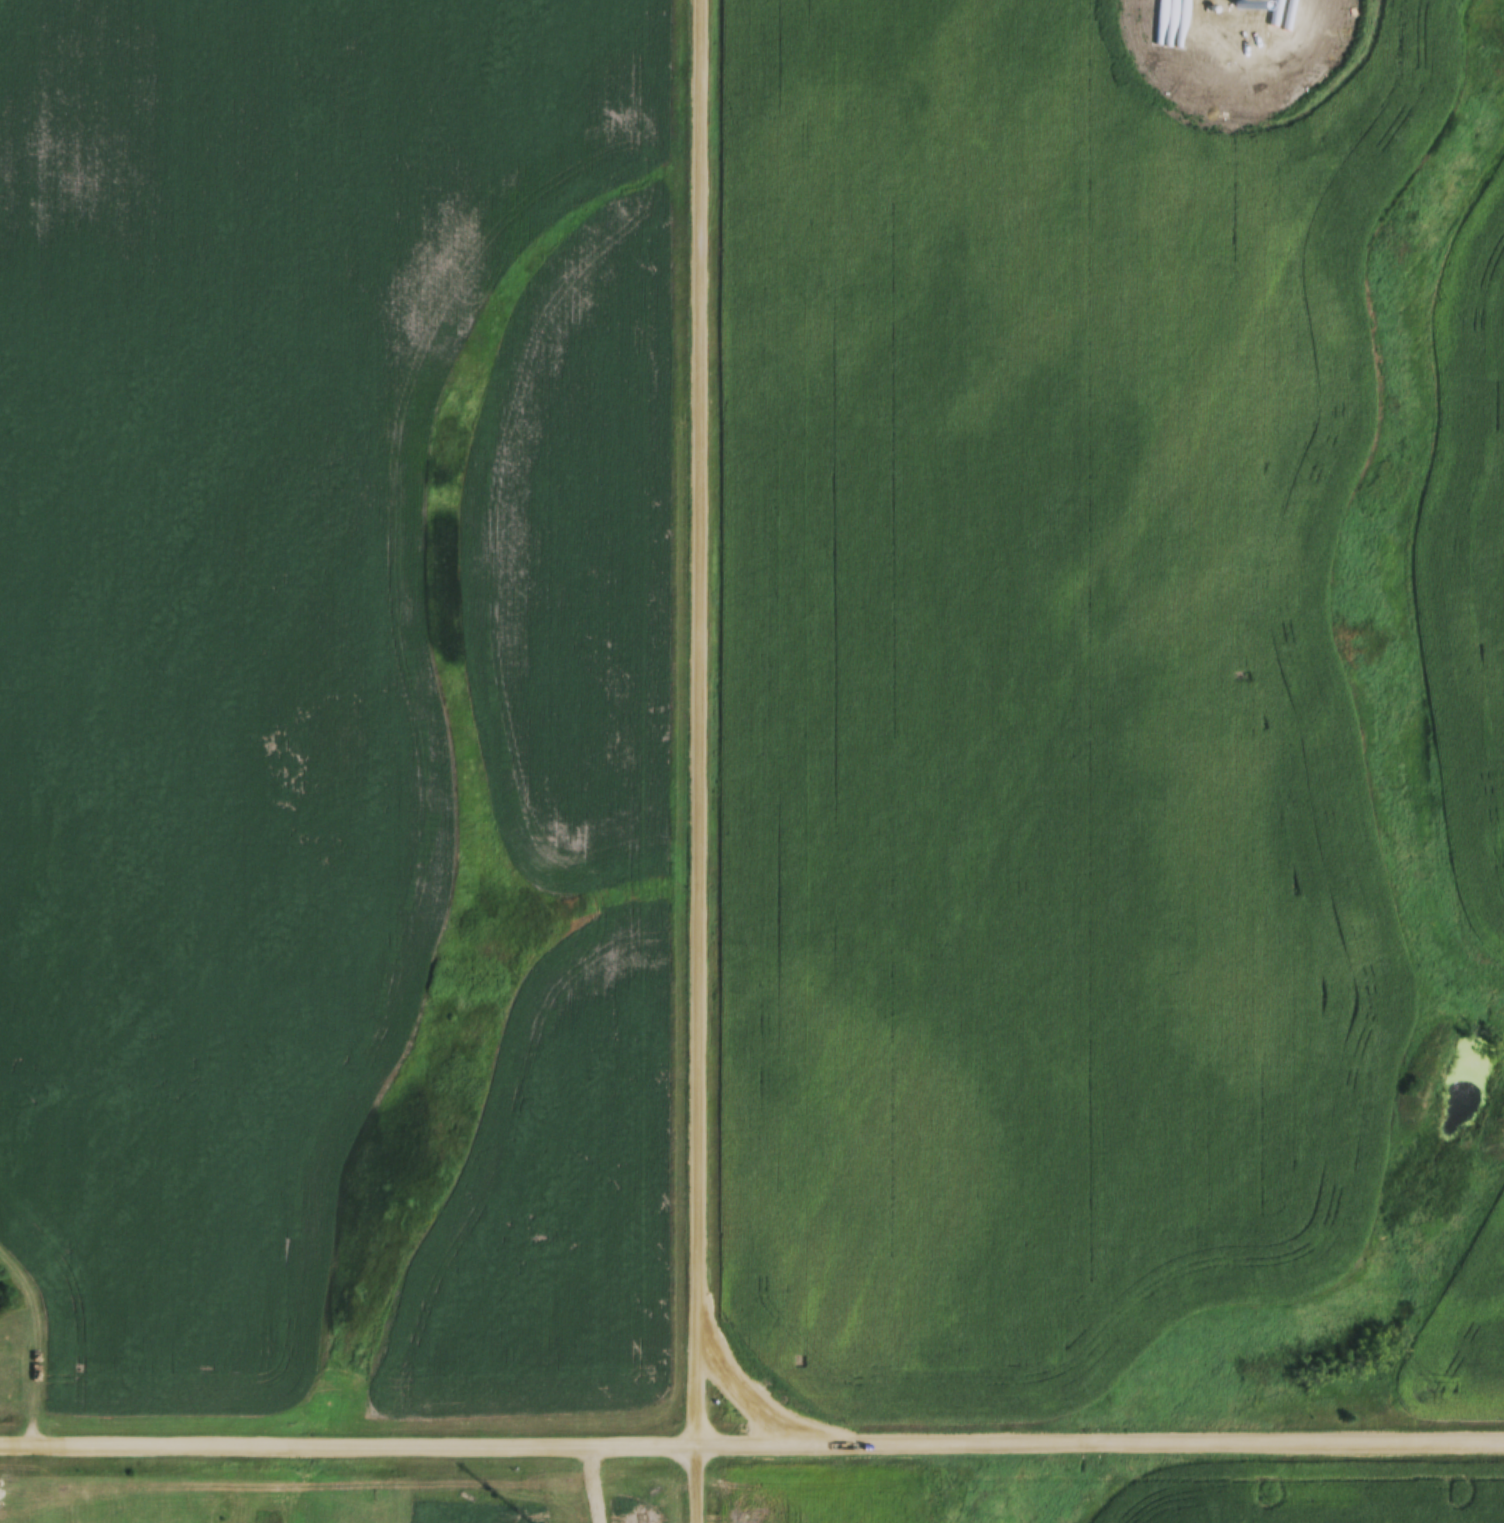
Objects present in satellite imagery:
road: (701, 761)
road: (752, 1444)
road: (596, 1484)

